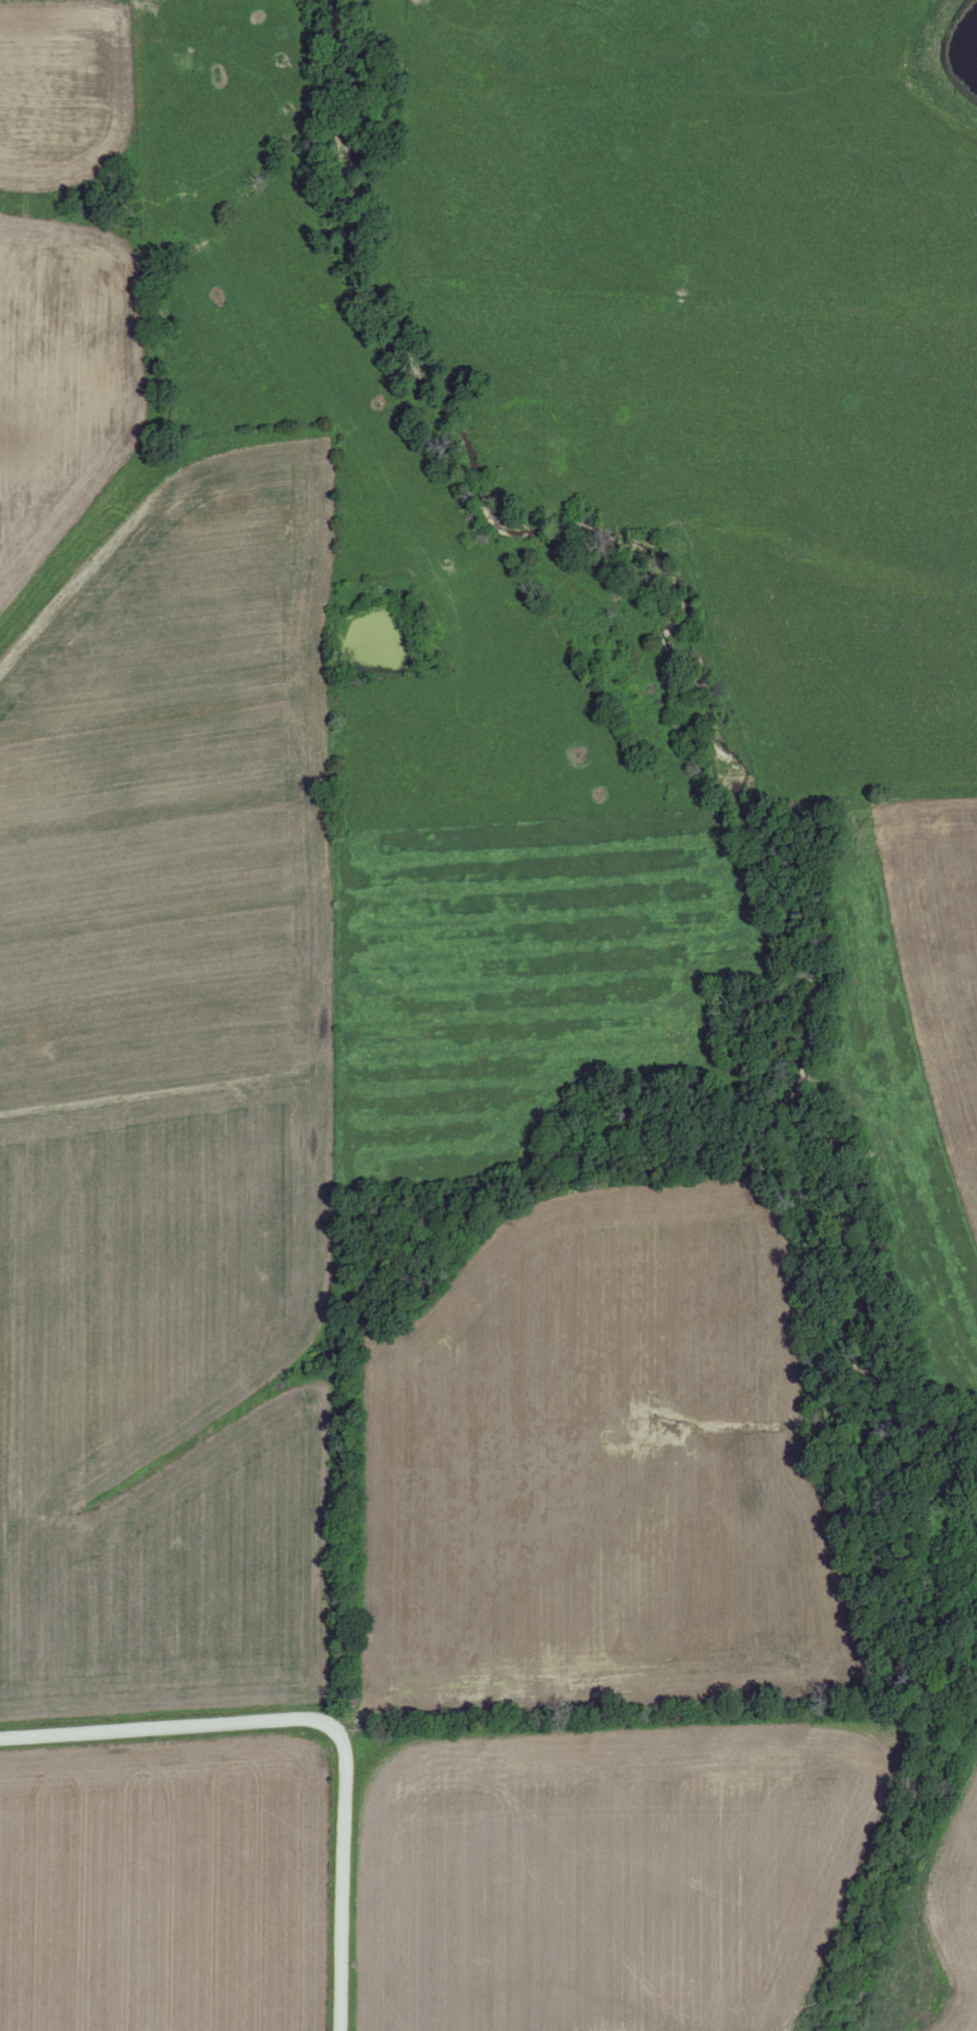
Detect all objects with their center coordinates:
road: (320, 1723)

